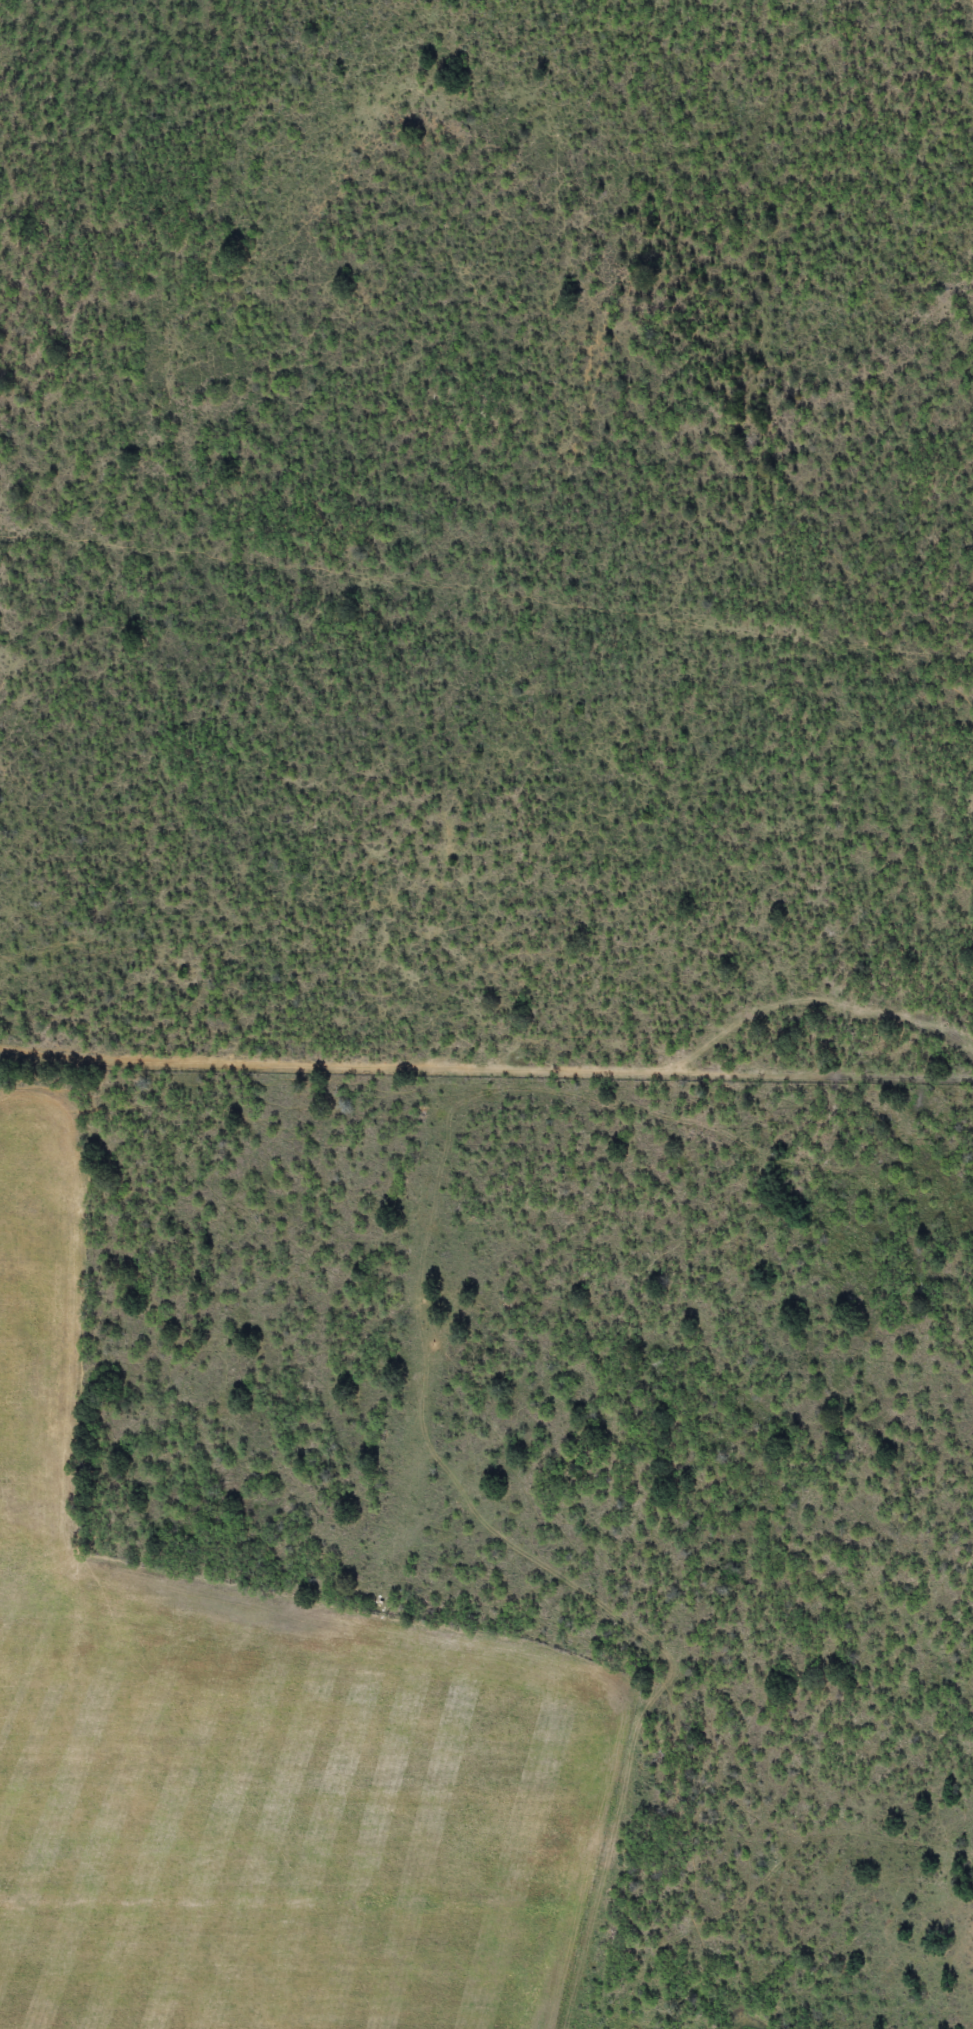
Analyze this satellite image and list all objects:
road: (968, 8)

